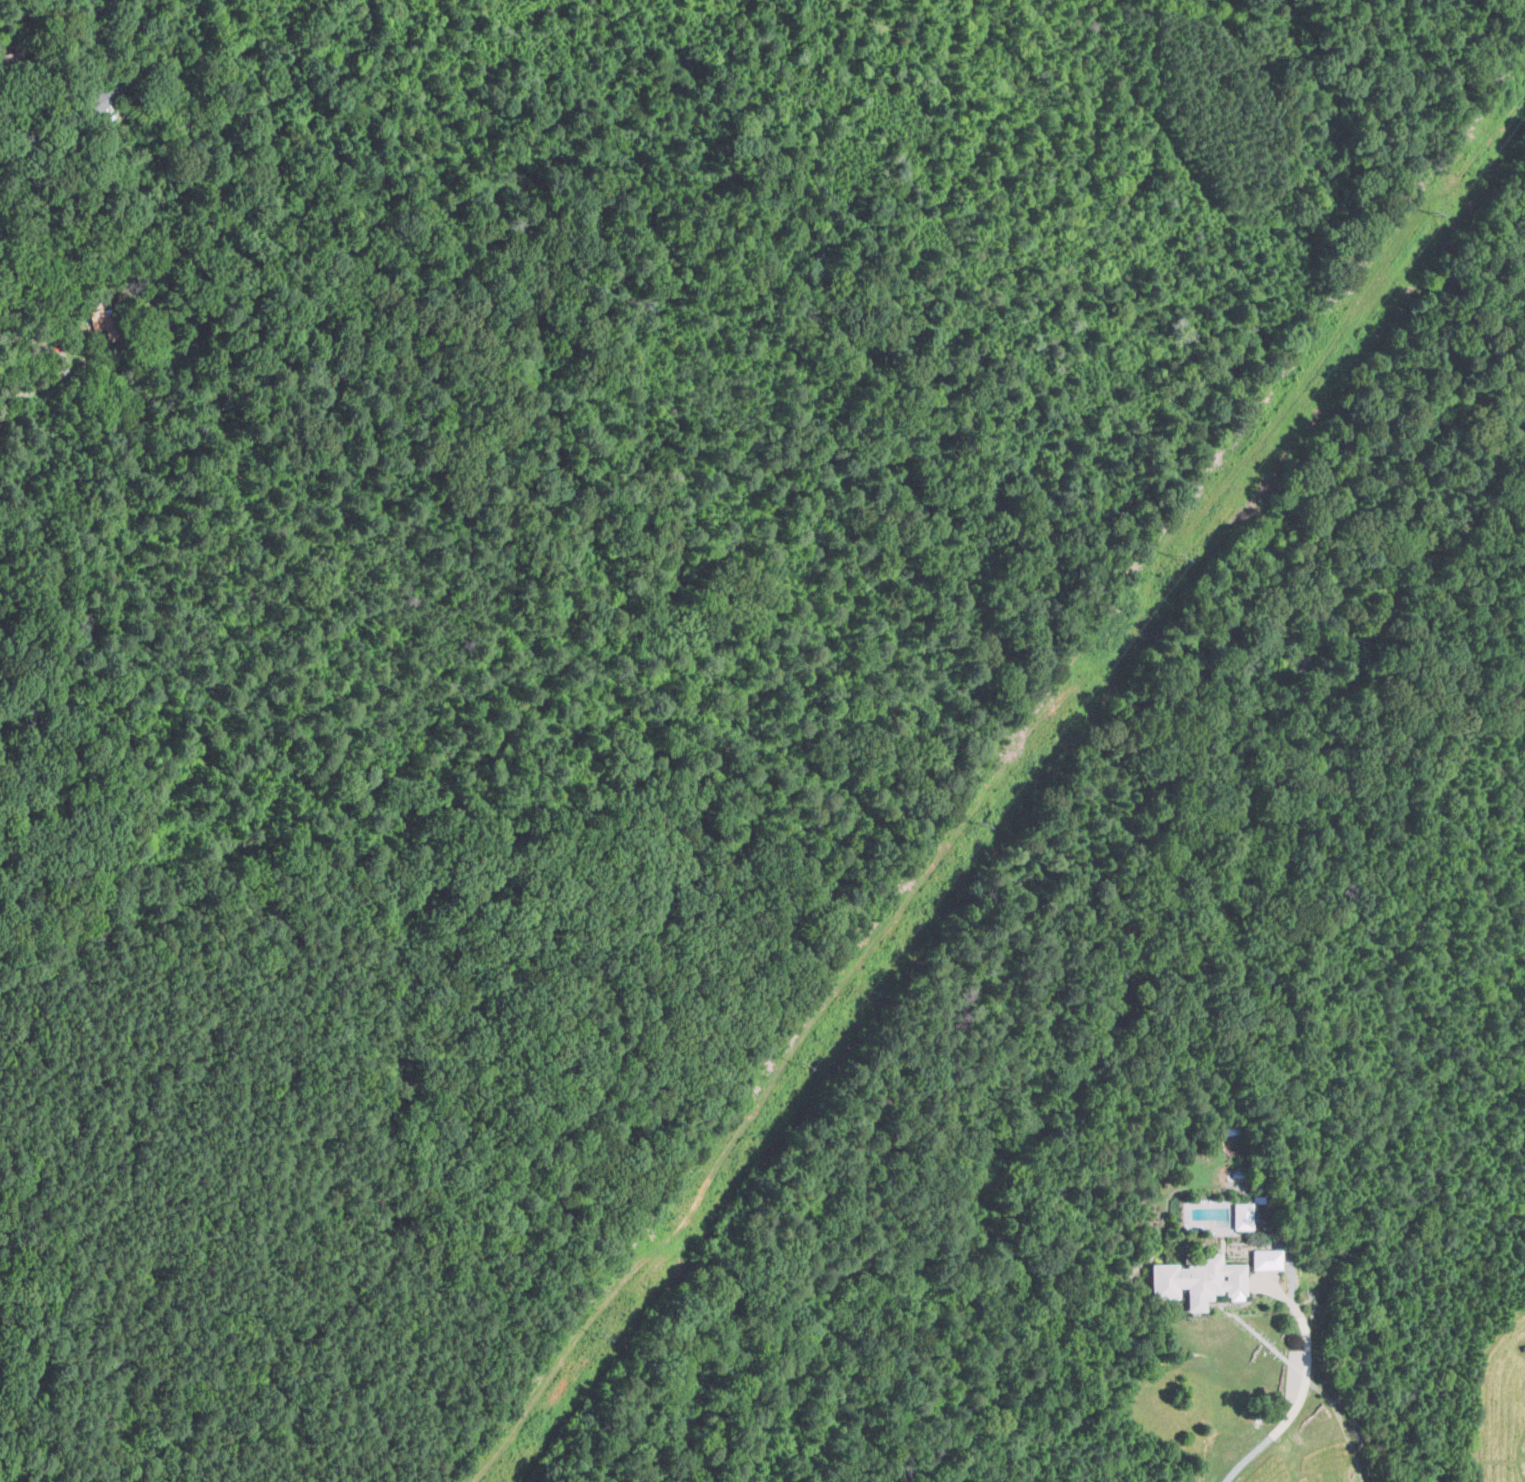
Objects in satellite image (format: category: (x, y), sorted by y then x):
road: (14, 16)
road: (24, 382)
building: (1240, 1216)
building: (1264, 1259)
building: (1193, 1280)
road: (1306, 1350)
road: (1250, 1454)

